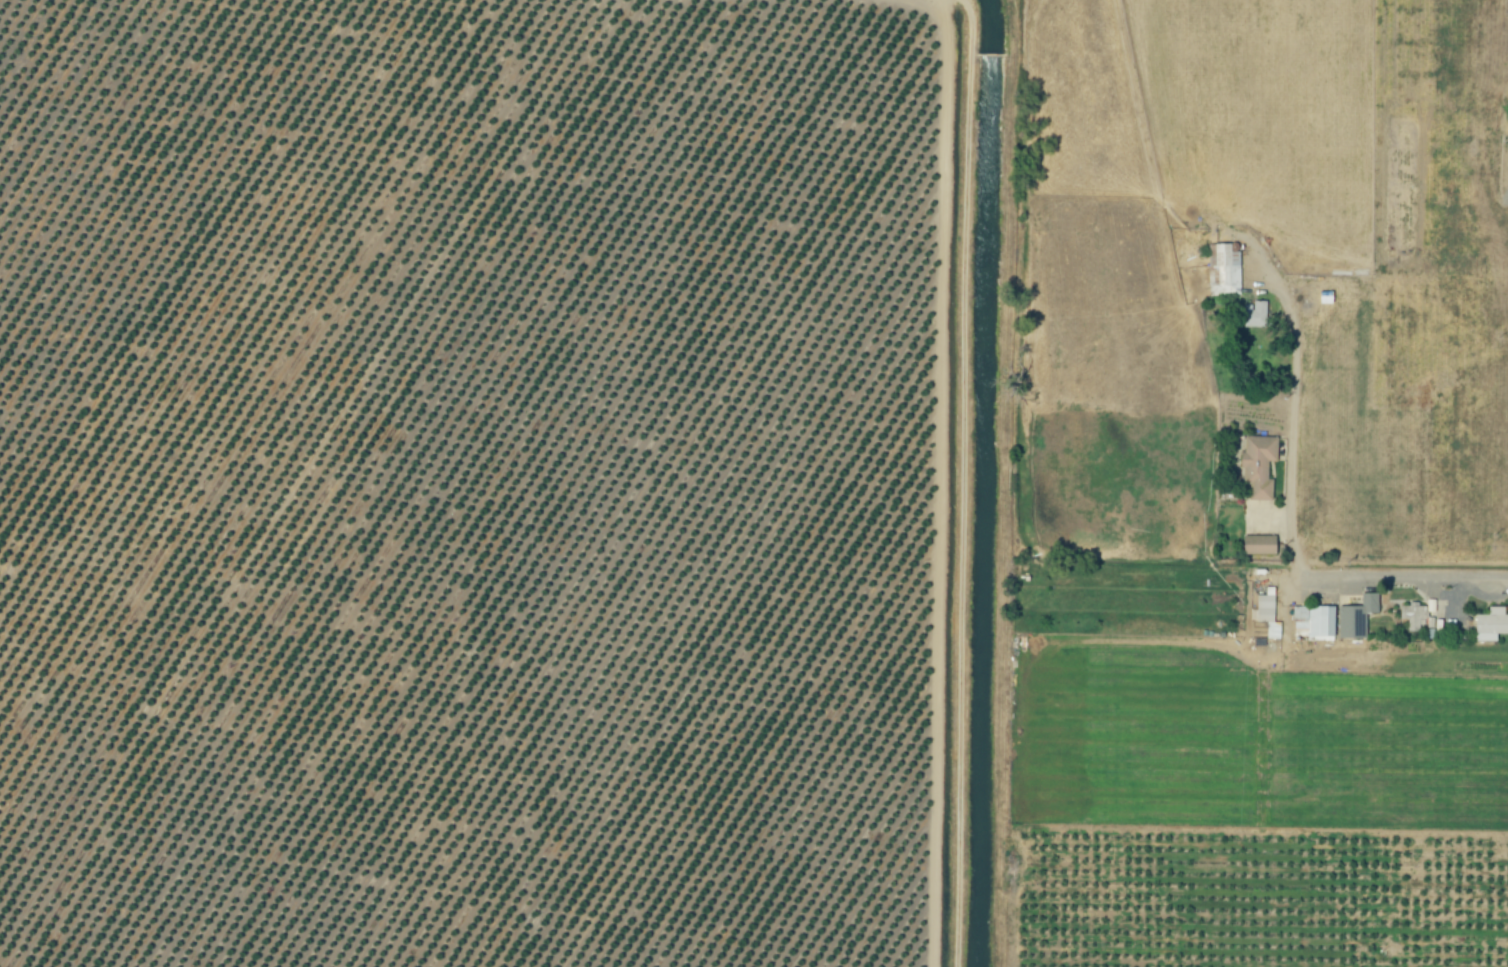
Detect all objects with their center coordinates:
building: (1224, 271)
building: (1256, 315)
road: (1292, 417)
building: (1259, 466)
road: (965, 481)
building: (1258, 545)
road: (1410, 582)
building: (1268, 616)
building: (1414, 617)
building: (1356, 618)
building: (1314, 622)
building: (1491, 625)

